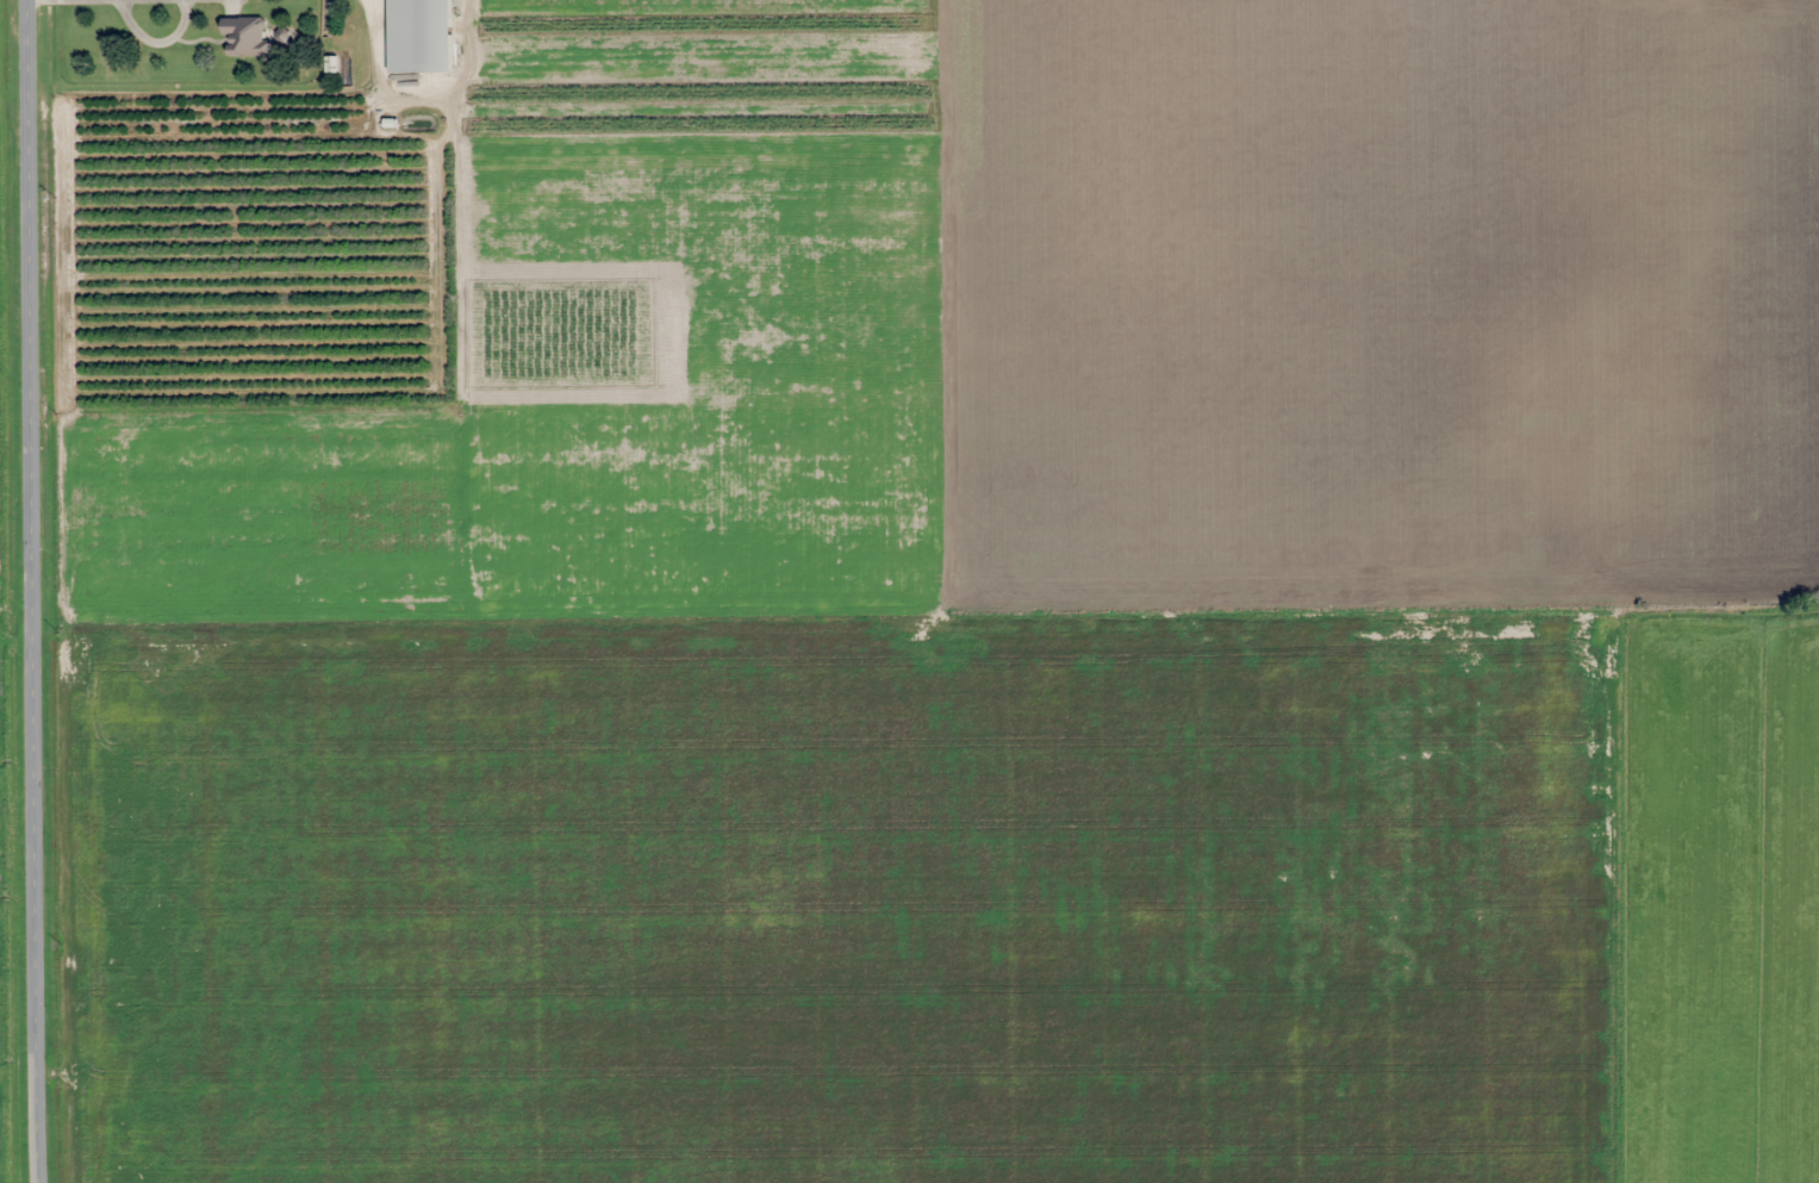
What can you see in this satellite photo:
building: (419, 36)
building: (245, 37)
road: (32, 591)

